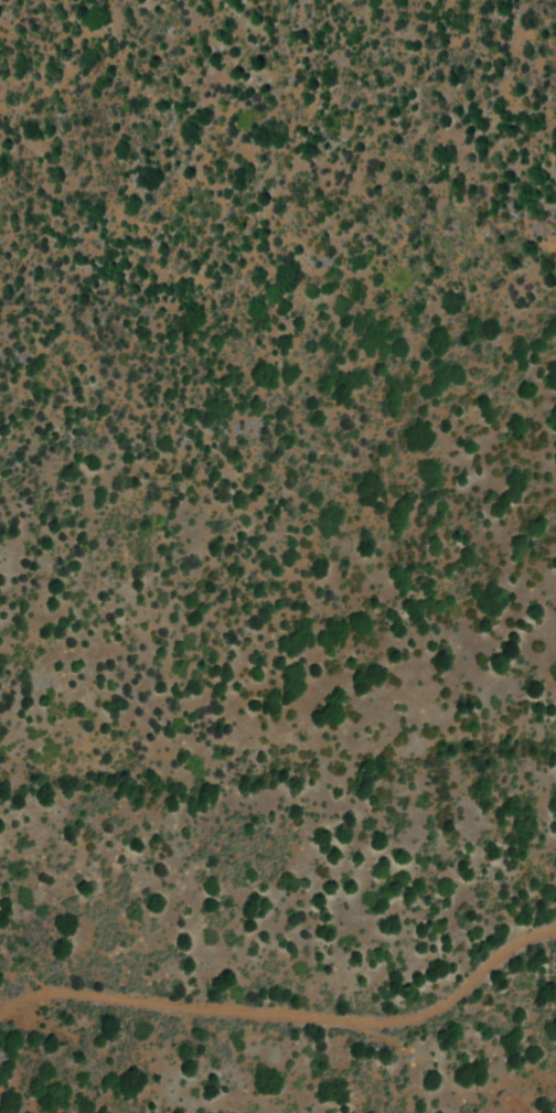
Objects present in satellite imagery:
road: (289, 1017)

